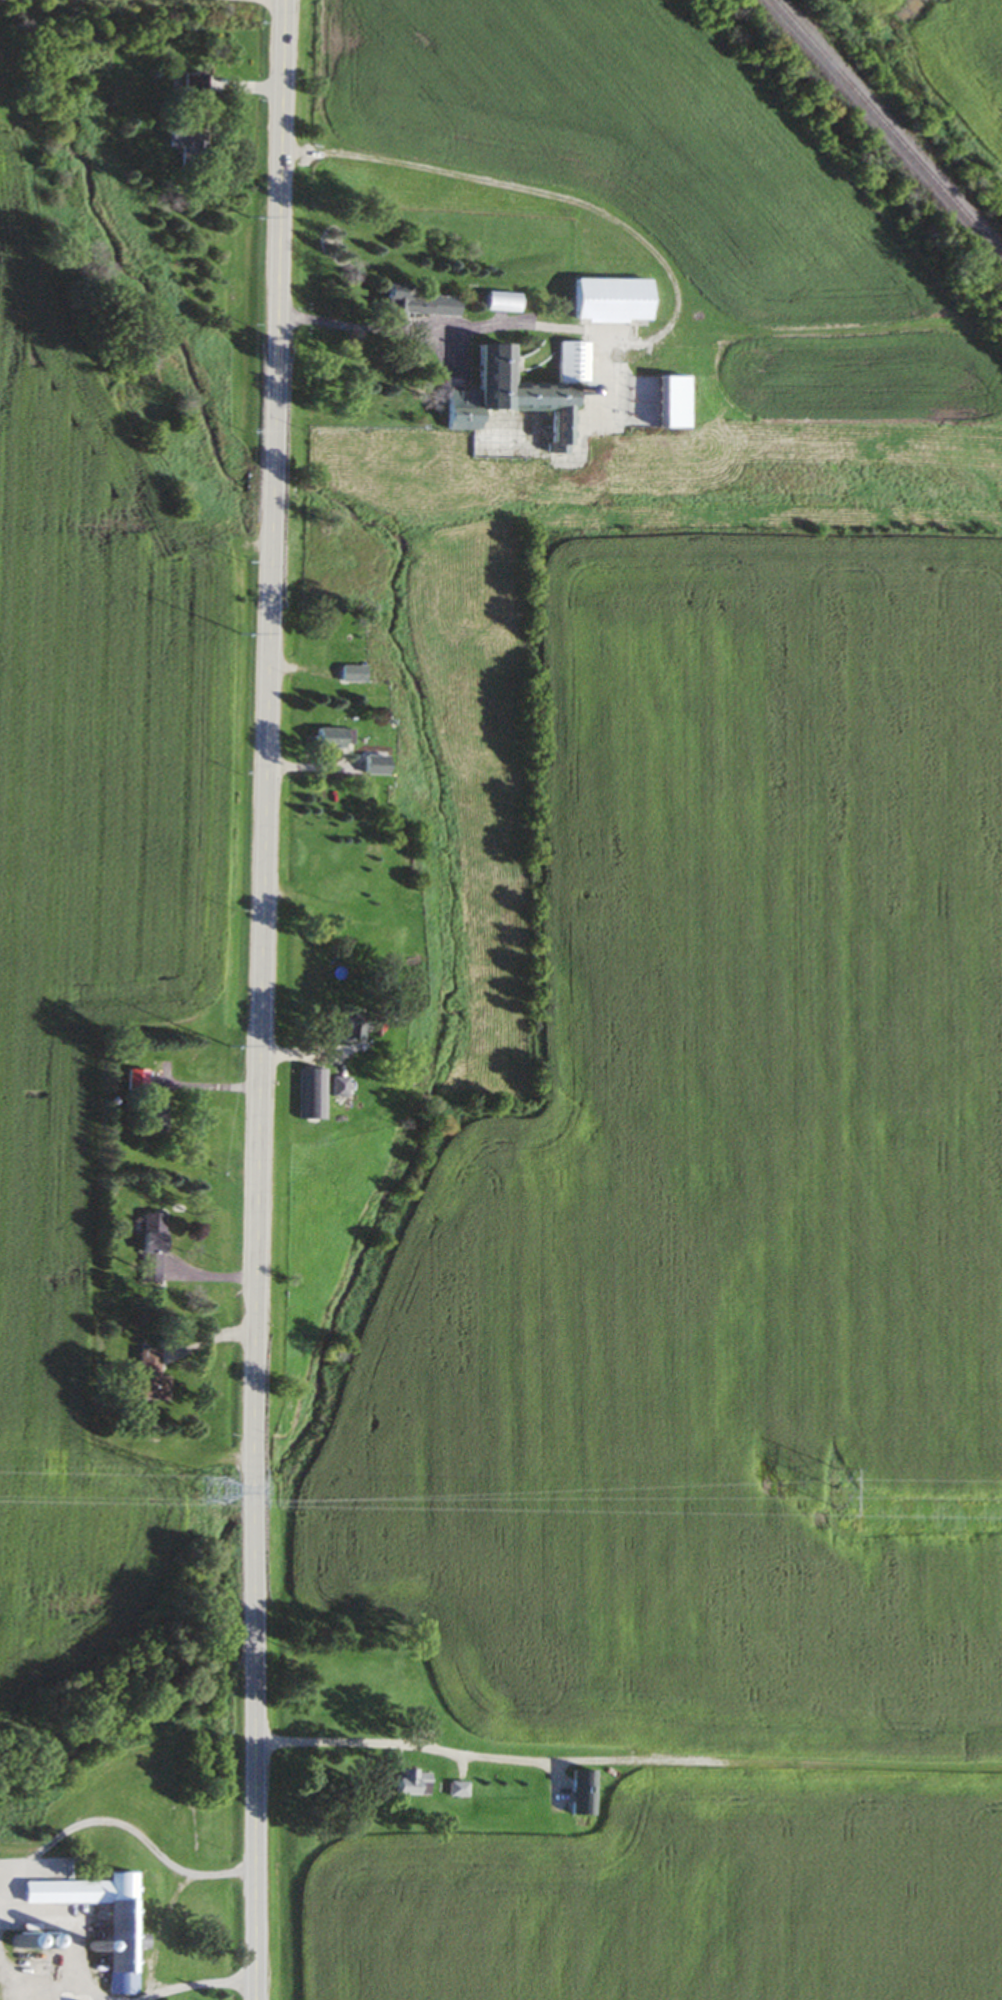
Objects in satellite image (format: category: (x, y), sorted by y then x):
road: (142, 5)
building: (194, 89)
railway: (885, 131)
building: (610, 298)
building: (503, 300)
building: (417, 301)
road: (540, 324)
building: (519, 389)
building: (671, 400)
road: (262, 999)
building: (349, 1027)
building: (136, 1080)
road: (207, 1083)
building: (339, 1087)
building: (312, 1095)
building: (155, 1117)
building: (150, 1248)
building: (148, 1377)
power tower: (836, 1486)
power tower: (215, 1492)
road: (408, 1742)
building: (411, 1784)
building: (458, 1791)
building: (582, 1793)
road: (40, 1848)
building: (120, 1921)
road: (161, 1925)
road: (197, 1982)

